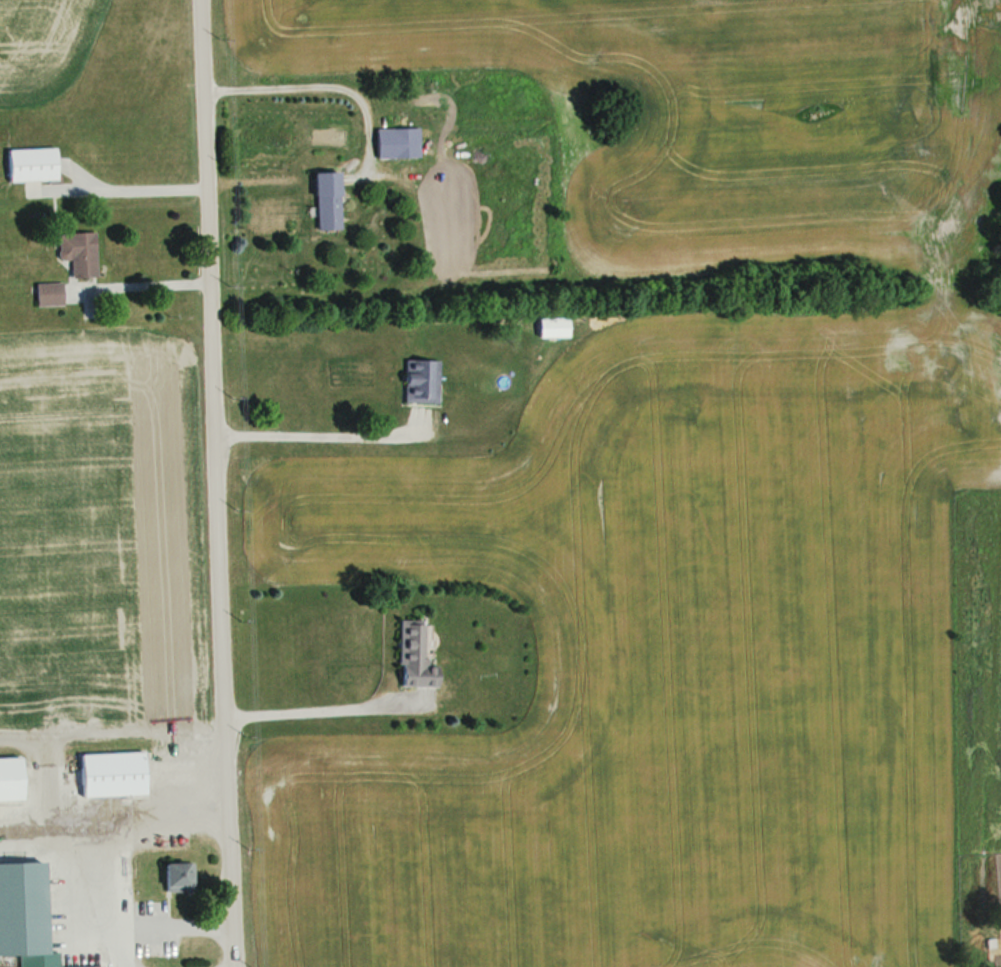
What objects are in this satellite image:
road: (303, 83)
building: (400, 142)
building: (31, 165)
road: (135, 185)
building: (326, 201)
building: (78, 254)
road: (143, 282)
building: (49, 294)
building: (420, 382)
road: (307, 427)
road: (208, 483)
building: (412, 656)
road: (295, 707)
building: (111, 774)
building: (10, 779)
building: (176, 878)
building: (38, 942)
building: (95, 952)

